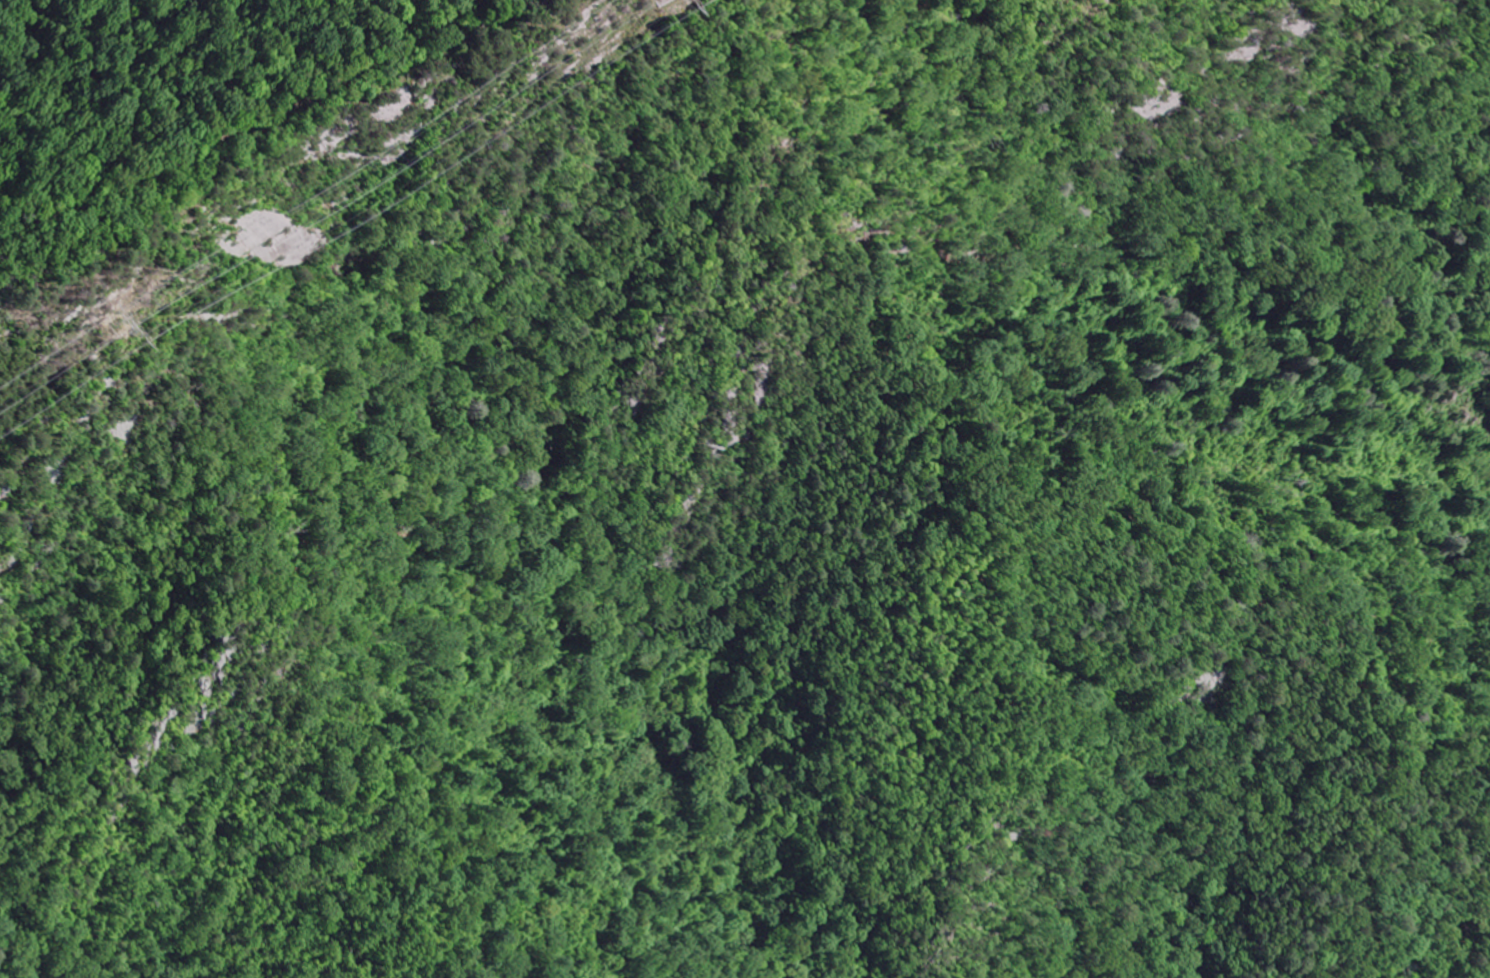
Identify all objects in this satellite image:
power tower: (131, 321)

